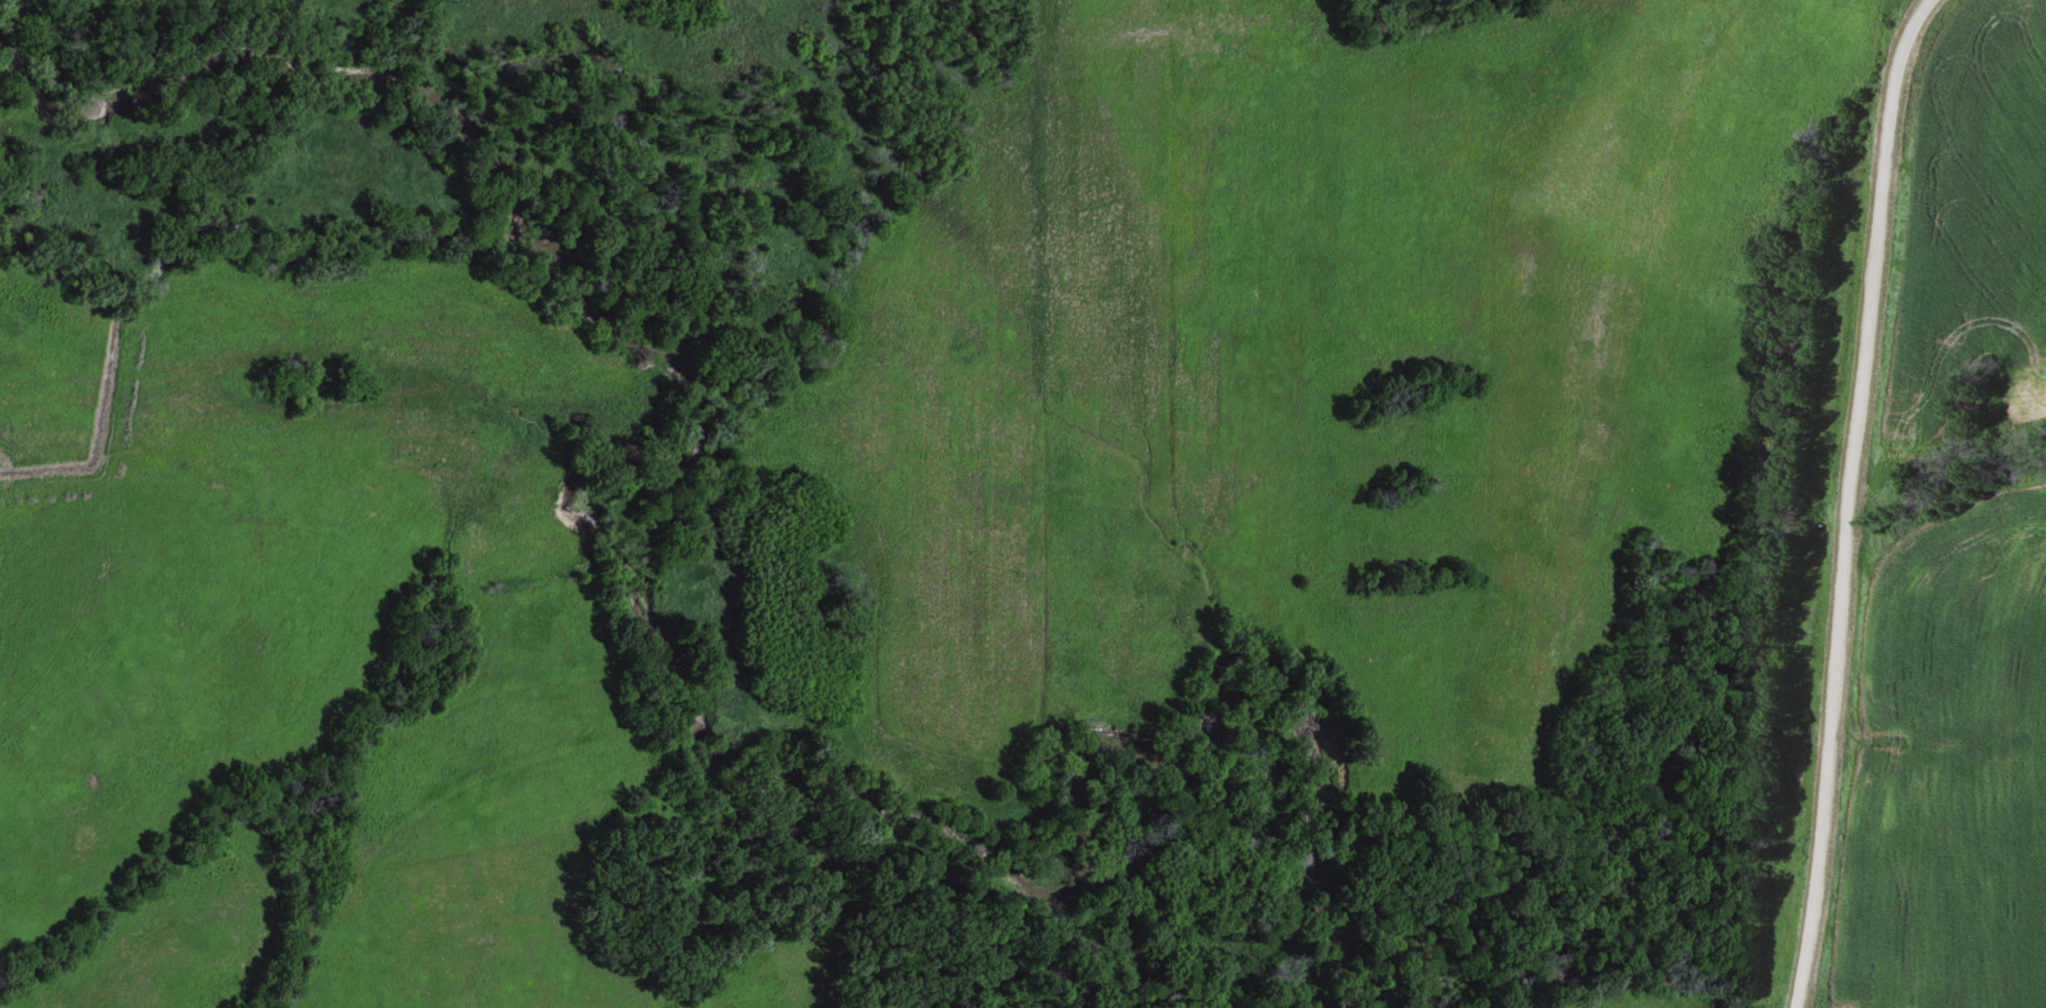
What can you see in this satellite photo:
road: (1853, 500)

